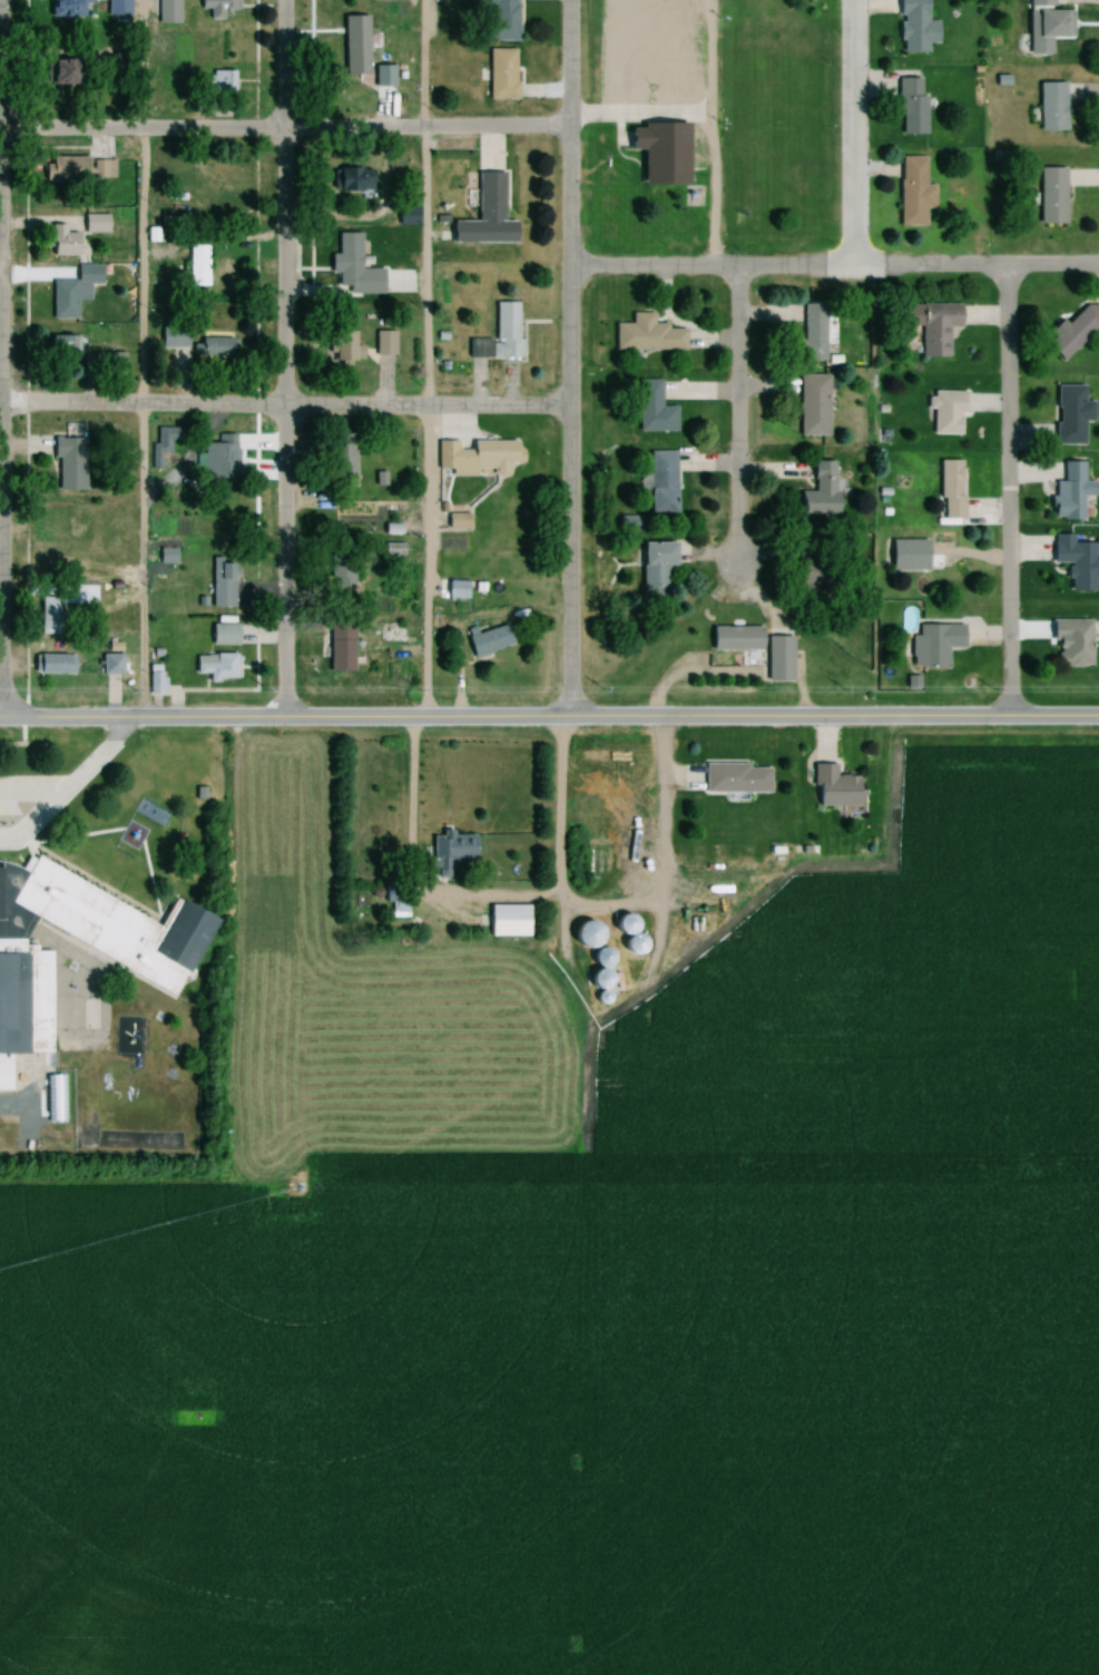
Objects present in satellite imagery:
building: (116, 8)
building: (67, 9)
building: (217, 9)
building: (166, 12)
building: (493, 21)
building: (1043, 26)
building: (913, 27)
building: (58, 74)
building: (499, 76)
building: (220, 82)
building: (357, 87)
building: (909, 107)
building: (1049, 108)
road: (638, 115)
road: (283, 129)
road: (709, 133)
road: (854, 133)
building: (657, 153)
building: (62, 170)
building: (102, 170)
building: (350, 180)
building: (911, 193)
building: (1049, 197)
building: (483, 215)
building: (94, 225)
building: (60, 243)
road: (833, 265)
building: (198, 267)
building: (350, 271)
building: (71, 292)
building: (930, 326)
building: (811, 334)
building: (498, 336)
building: (645, 336)
building: (383, 345)
building: (65, 346)
building: (346, 347)
building: (212, 353)
road: (281, 359)
road: (423, 359)
road: (567, 359)
road: (138, 360)
road: (283, 405)
building: (811, 408)
building: (651, 411)
road: (737, 412)
building: (944, 414)
building: (1069, 417)
building: (450, 451)
building: (491, 457)
building: (219, 459)
building: (68, 464)
building: (343, 466)
building: (659, 484)
building: (949, 486)
road: (1007, 491)
building: (817, 492)
building: (1068, 493)
building: (455, 522)
road: (0, 562)
building: (1075, 564)
building: (340, 578)
building: (220, 581)
building: (48, 617)
building: (222, 635)
building: (733, 639)
building: (485, 641)
building: (1070, 644)
building: (932, 646)
building: (337, 648)
building: (777, 660)
building: (52, 665)
building: (109, 665)
building: (215, 667)
road: (283, 718)
road: (833, 718)
building: (734, 778)
road: (68, 786)
building: (831, 787)
building: (453, 846)
road: (485, 894)
building: (396, 907)
building: (506, 921)
building: (583, 934)
building: (596, 969)
building: (157, 970)

